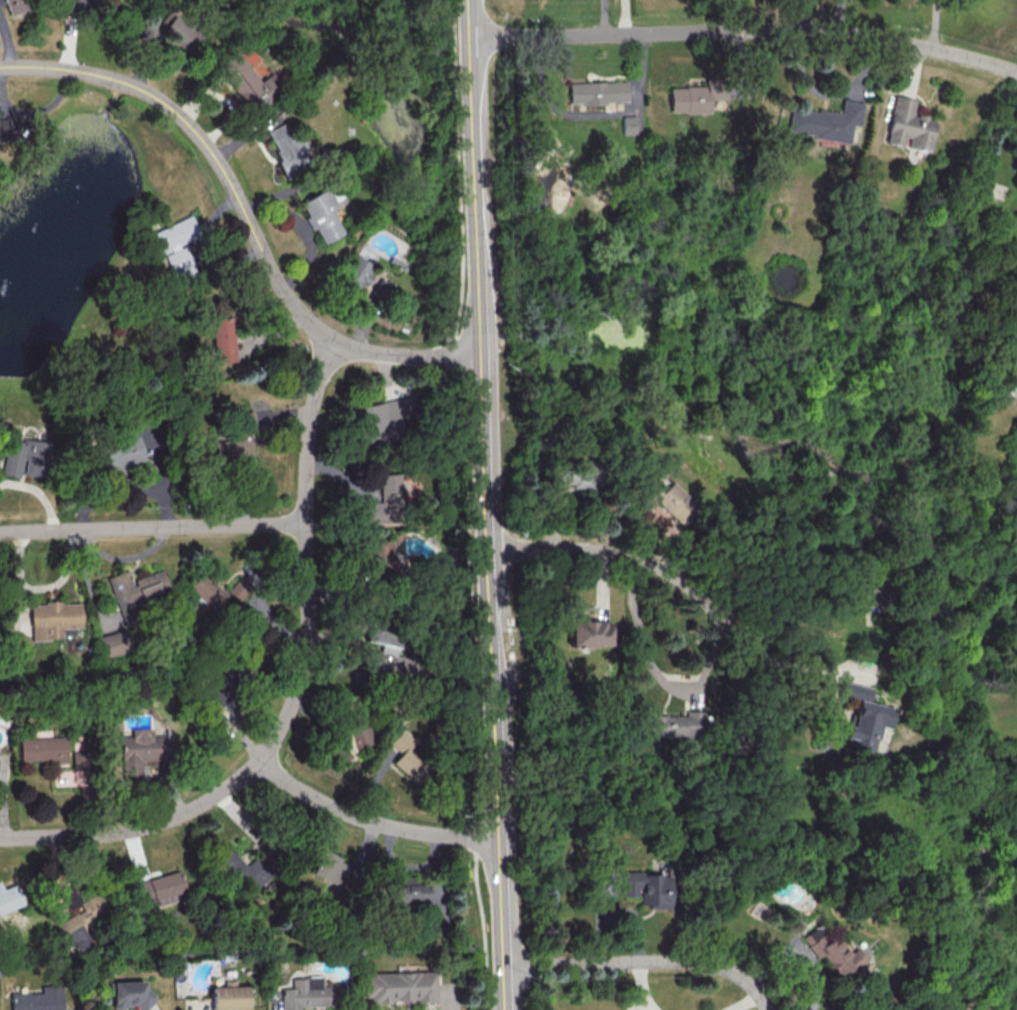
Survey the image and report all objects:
building: (14, 5)
road: (604, 16)
road: (465, 17)
road: (936, 24)
road: (743, 29)
building: (171, 33)
river: (426, 67)
building: (246, 81)
building: (597, 92)
road: (825, 95)
building: (692, 98)
road: (94, 109)
road: (37, 112)
road: (105, 113)
road: (592, 115)
road: (117, 119)
building: (825, 121)
road: (469, 124)
building: (628, 124)
building: (907, 125)
building: (286, 148)
road: (458, 169)
road: (243, 211)
building: (319, 215)
road: (473, 226)
river: (475, 227)
building: (173, 244)
building: (353, 275)
building: (222, 339)
road: (458, 358)
building: (381, 419)
building: (237, 443)
river: (742, 446)
building: (119, 455)
building: (26, 456)
building: (571, 474)
building: (664, 501)
building: (383, 502)
road: (152, 527)
road: (485, 538)
building: (383, 556)
road: (636, 560)
building: (239, 588)
building: (139, 589)
building: (207, 591)
road: (473, 598)
building: (53, 619)
building: (589, 633)
building: (114, 643)
building: (390, 652)
road: (809, 665)
road: (655, 672)
road: (296, 692)
building: (862, 717)
building: (675, 724)
building: (358, 729)
river: (961, 746)
building: (44, 749)
building: (339, 751)
building: (409, 754)
building: (3, 766)
road: (371, 818)
road: (472, 837)
building: (333, 870)
building: (241, 871)
building: (161, 888)
building: (647, 888)
building: (415, 894)
building: (69, 896)
road: (603, 896)
building: (9, 898)
road: (501, 902)
road: (619, 912)
building: (82, 922)
road: (485, 932)
building: (833, 953)
road: (645, 960)
road: (799, 962)
building: (402, 988)
road: (504, 989)
building: (129, 994)
building: (309, 995)
building: (231, 999)
building: (40, 1000)
road: (741, 1001)
road: (644, 1005)

